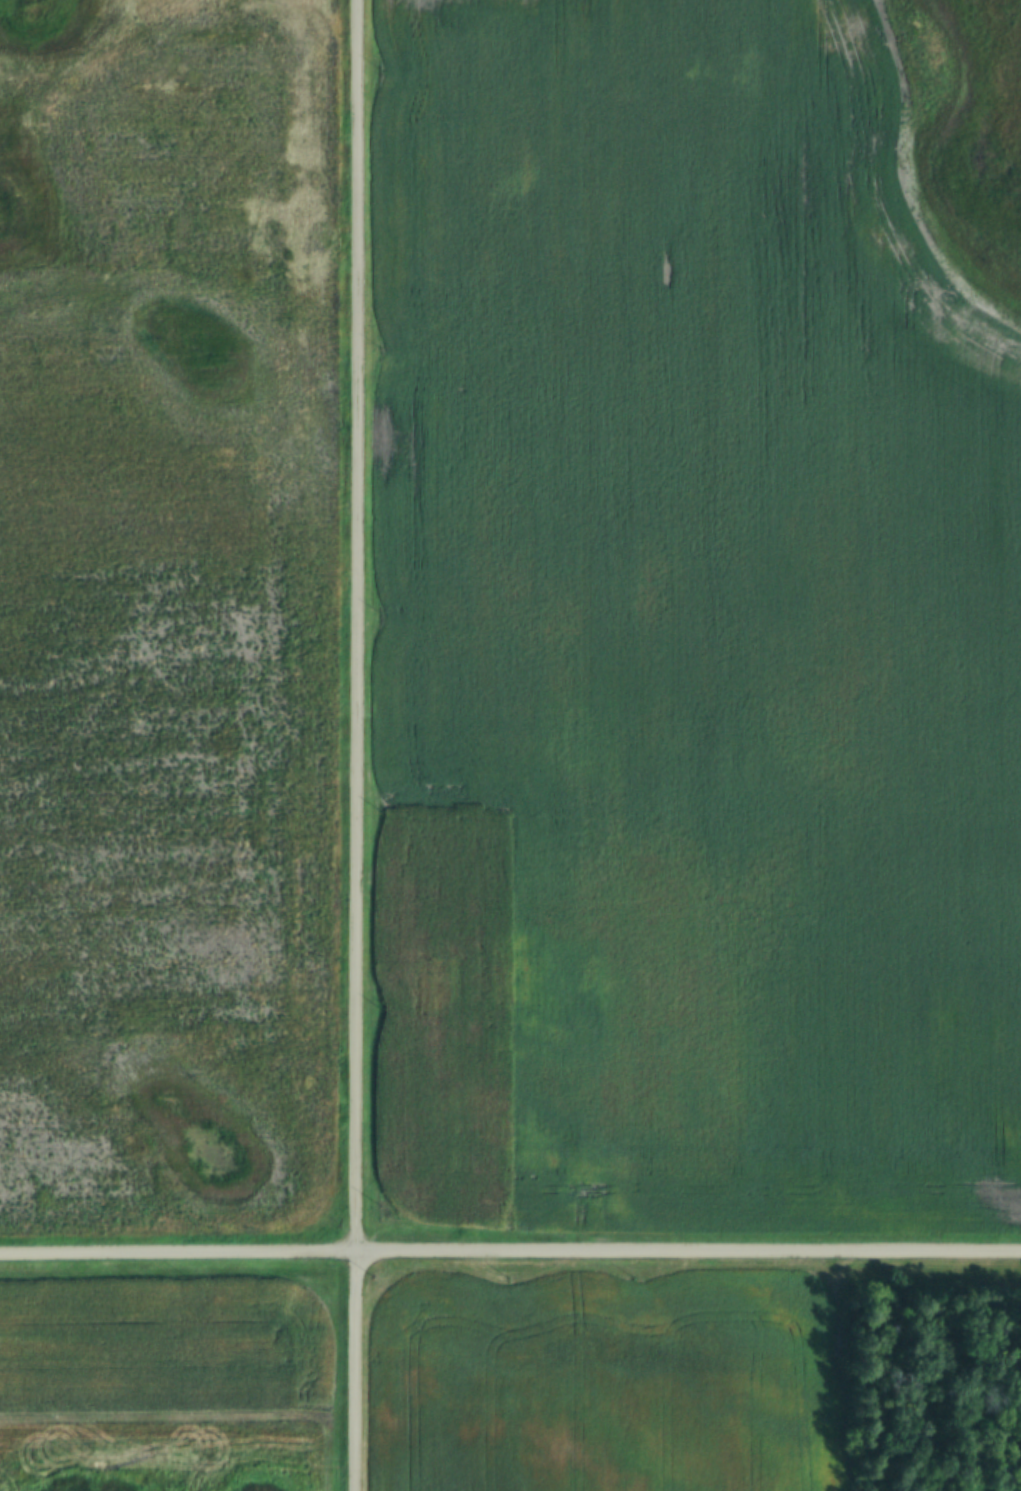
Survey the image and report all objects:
road: (359, 627)
road: (510, 1254)
road: (357, 1372)

